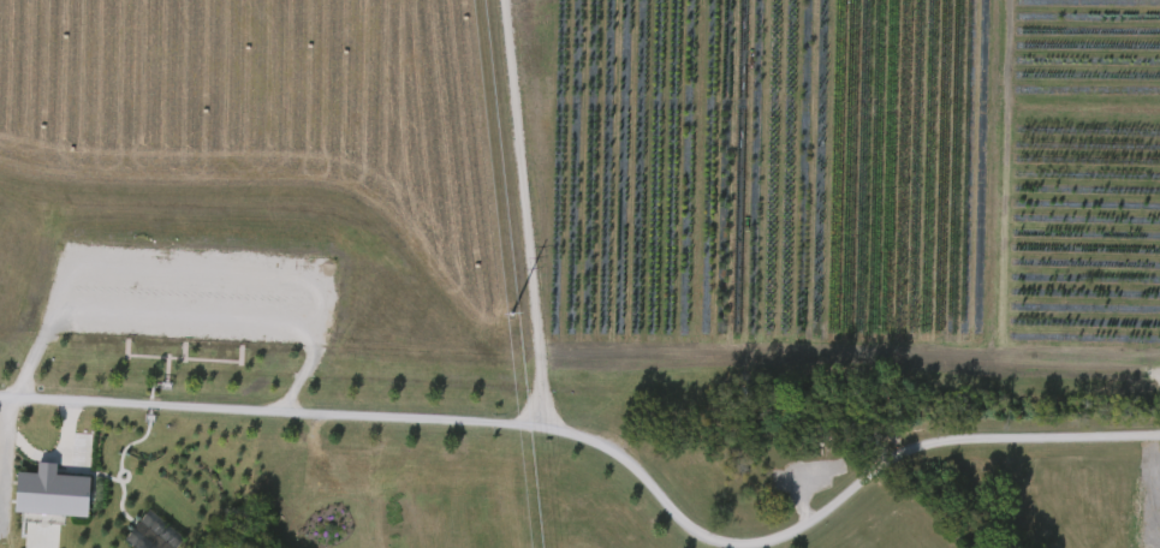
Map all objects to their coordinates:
road: (524, 215)
road: (189, 315)
power tower: (493, 320)
road: (382, 421)
road: (0, 441)
road: (946, 446)
road: (52, 460)
building: (48, 493)

